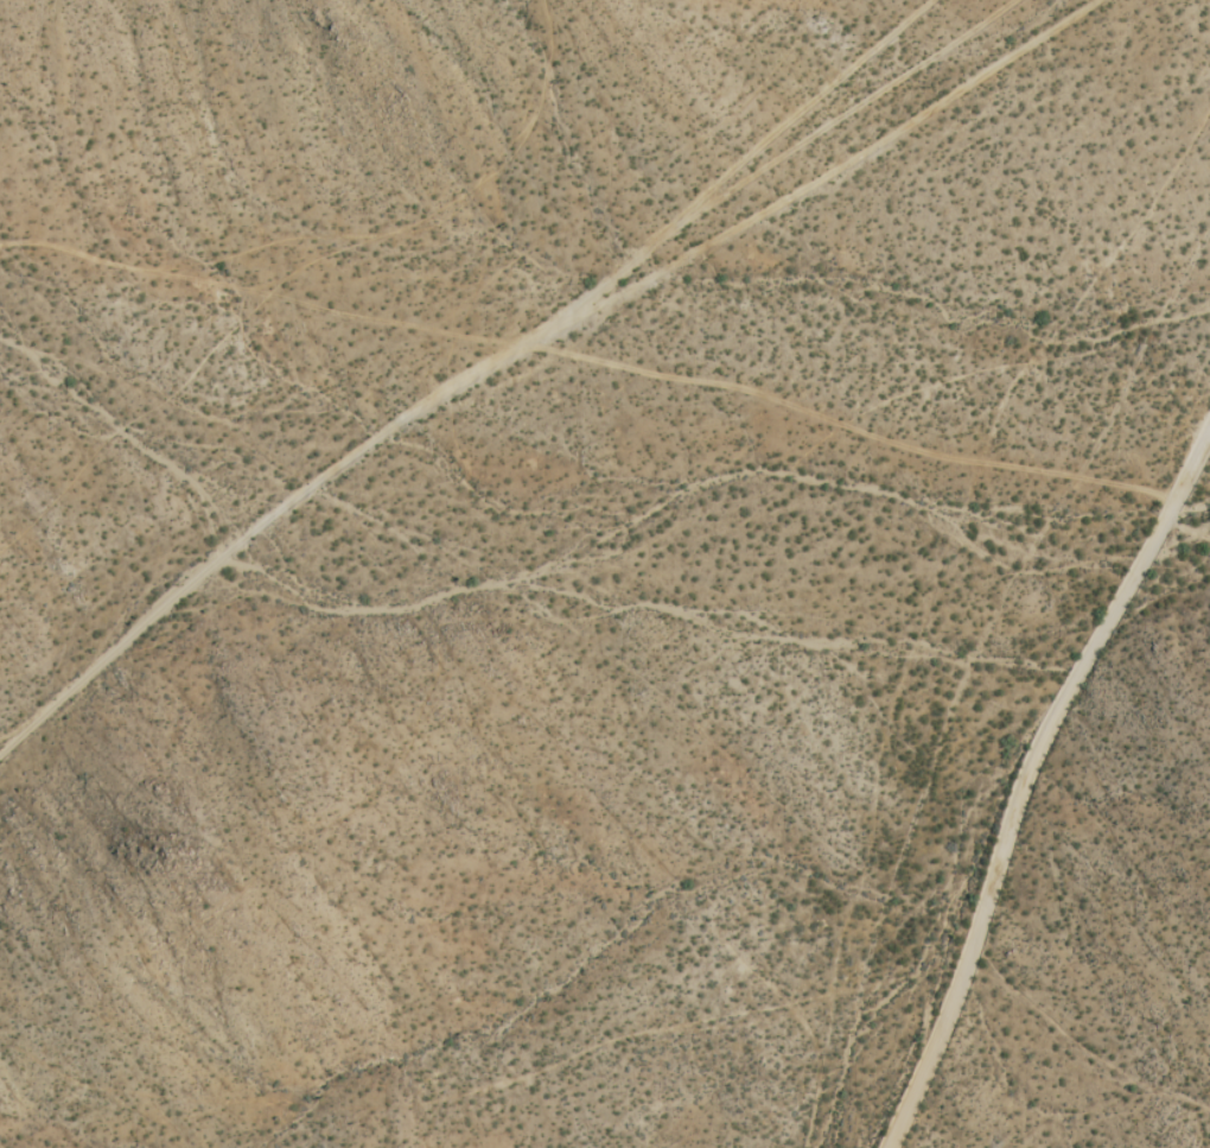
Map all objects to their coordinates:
road: (1015, 770)

